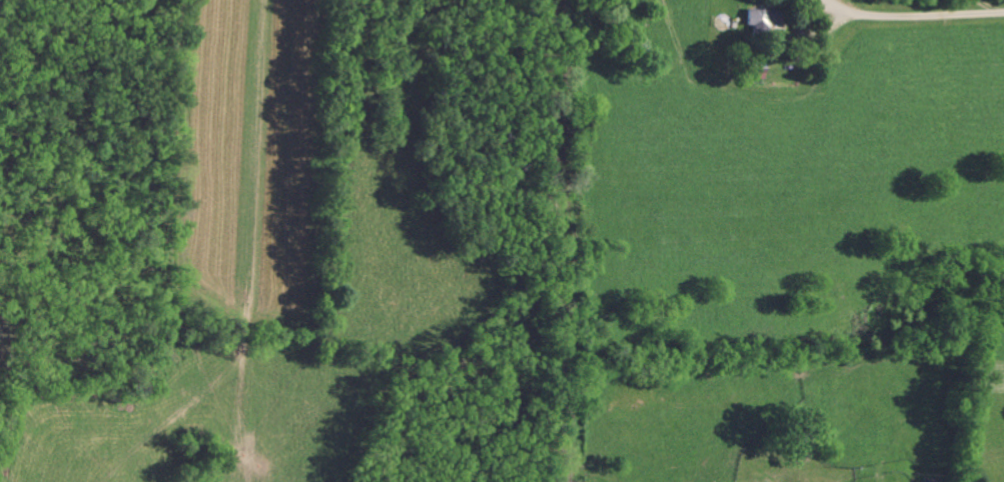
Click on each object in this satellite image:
road: (911, 17)
building: (763, 18)

